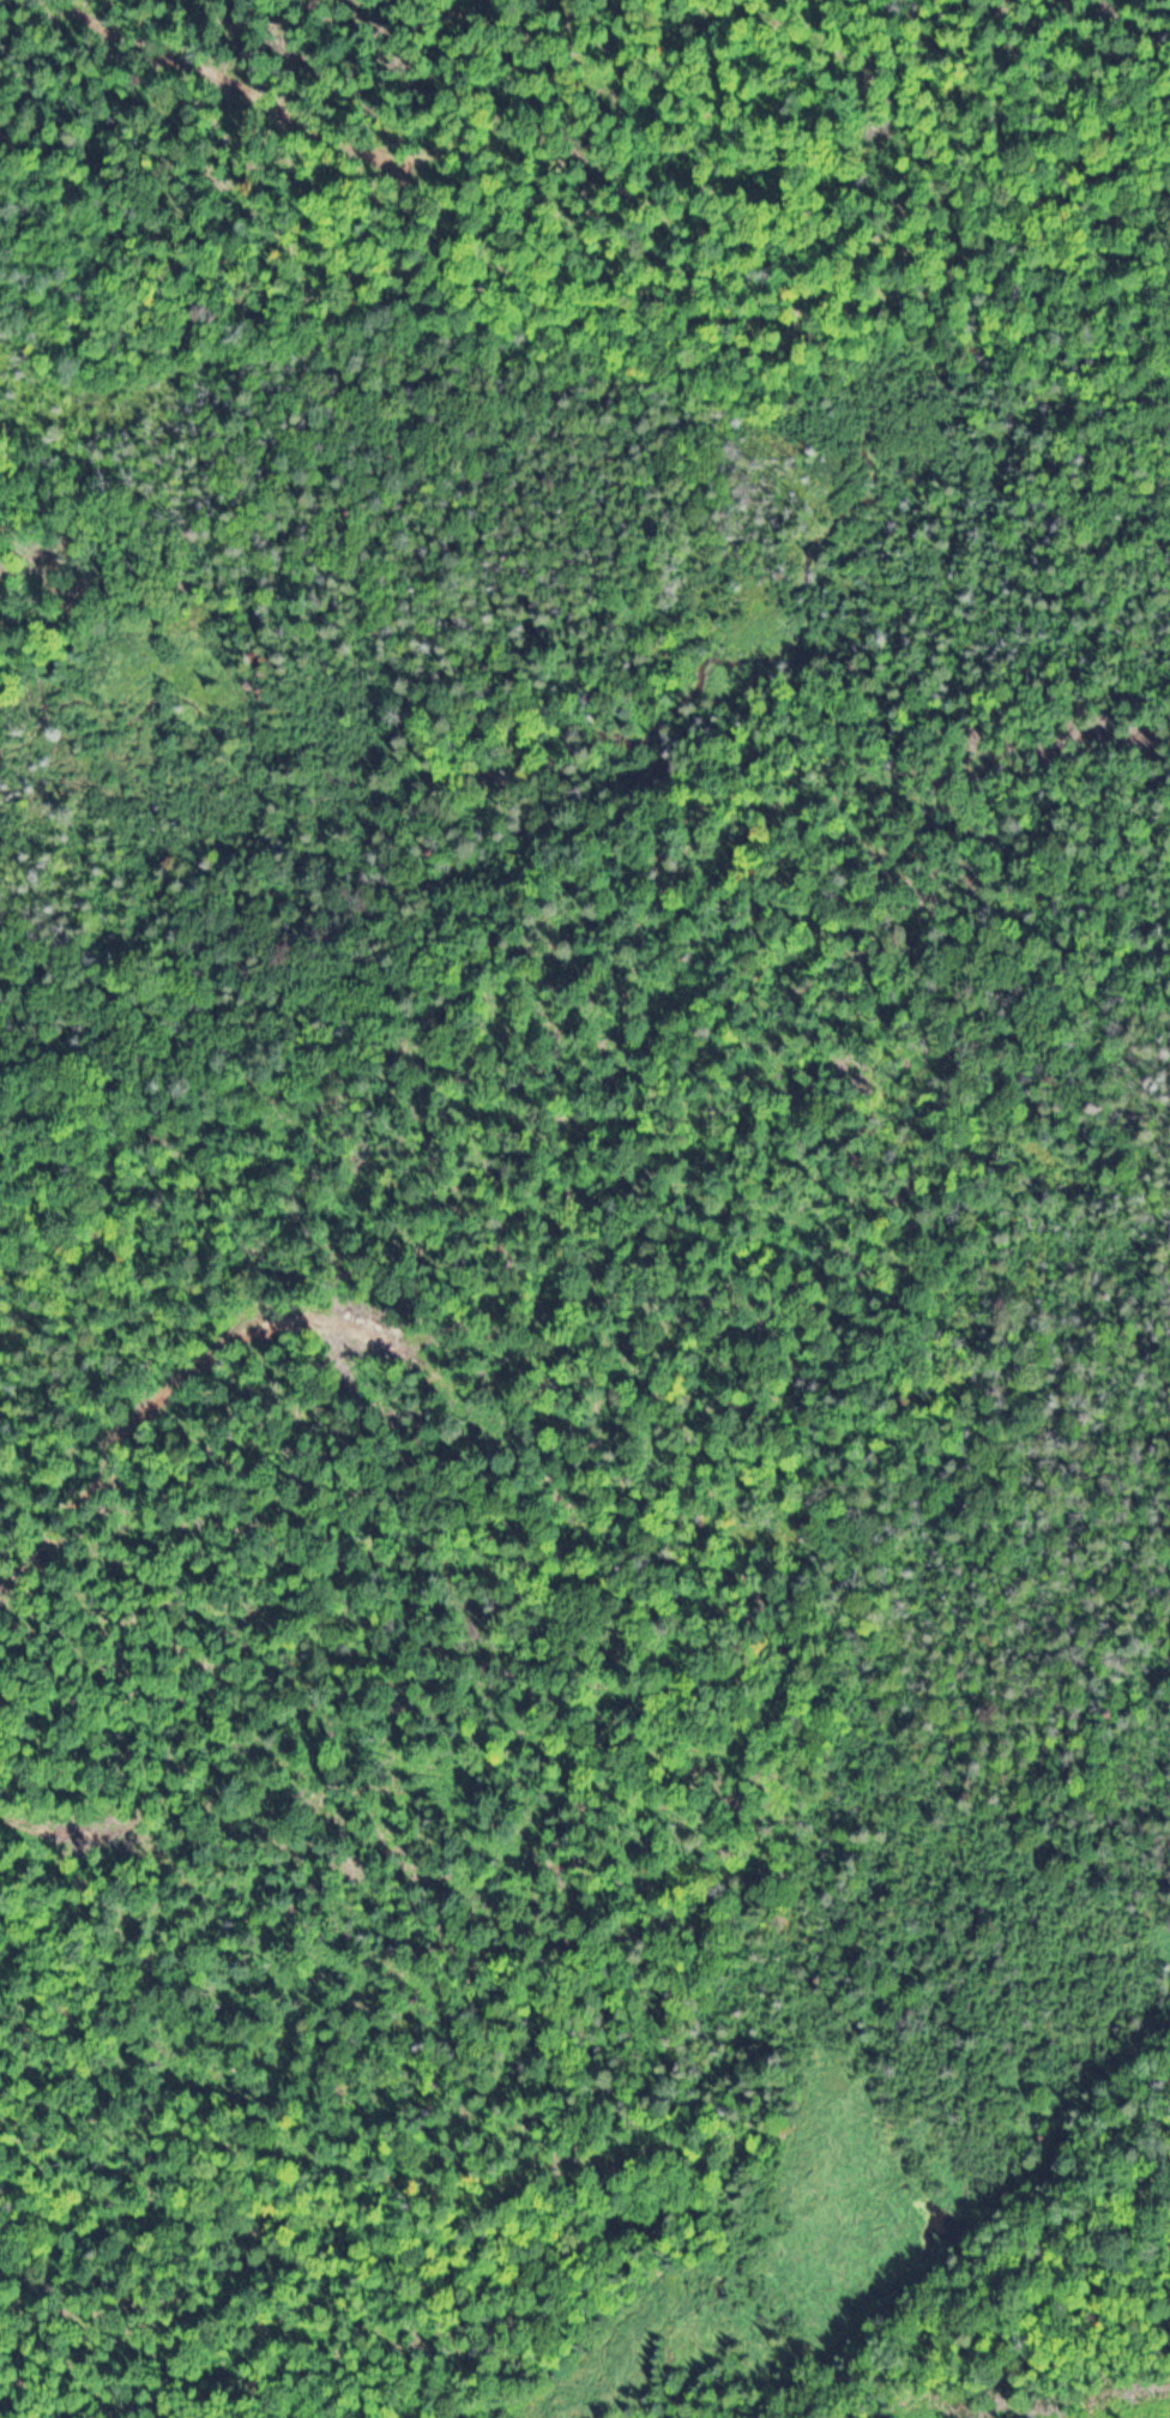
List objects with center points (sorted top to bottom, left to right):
river: (934, 2181)

